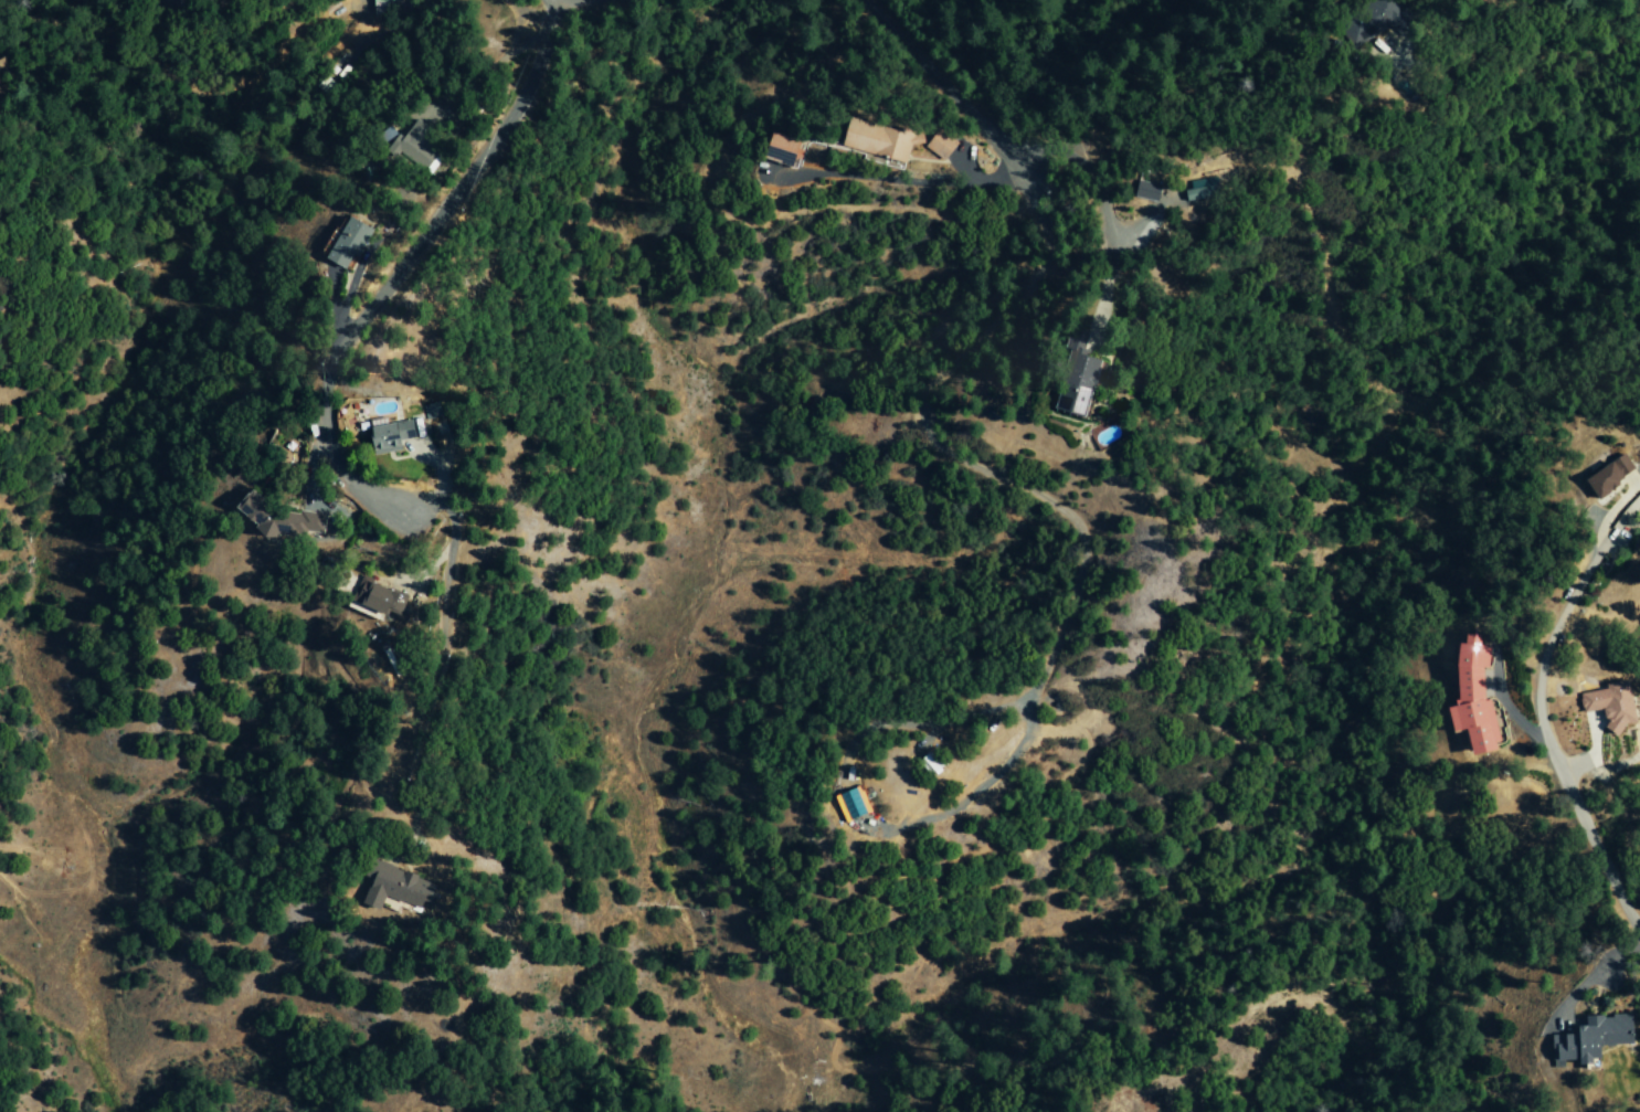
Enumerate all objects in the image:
building: (385, 6)
road: (526, 14)
building: (1362, 23)
road: (1471, 51)
road: (436, 83)
road: (937, 85)
road: (425, 113)
building: (869, 144)
building: (934, 146)
building: (398, 147)
building: (775, 152)
road: (891, 180)
building: (1139, 193)
building: (1194, 193)
road: (1101, 206)
building: (331, 248)
road: (400, 266)
road: (353, 277)
road: (1100, 290)
road: (332, 306)
building: (1068, 378)
building: (402, 425)
building: (372, 434)
road: (428, 463)
building: (1601, 474)
road: (309, 499)
building: (272, 519)
road: (430, 566)
building: (371, 600)
road: (437, 669)
building: (1469, 697)
building: (1605, 705)
road: (1548, 711)
building: (848, 804)
building: (390, 887)
building: (1585, 1039)

